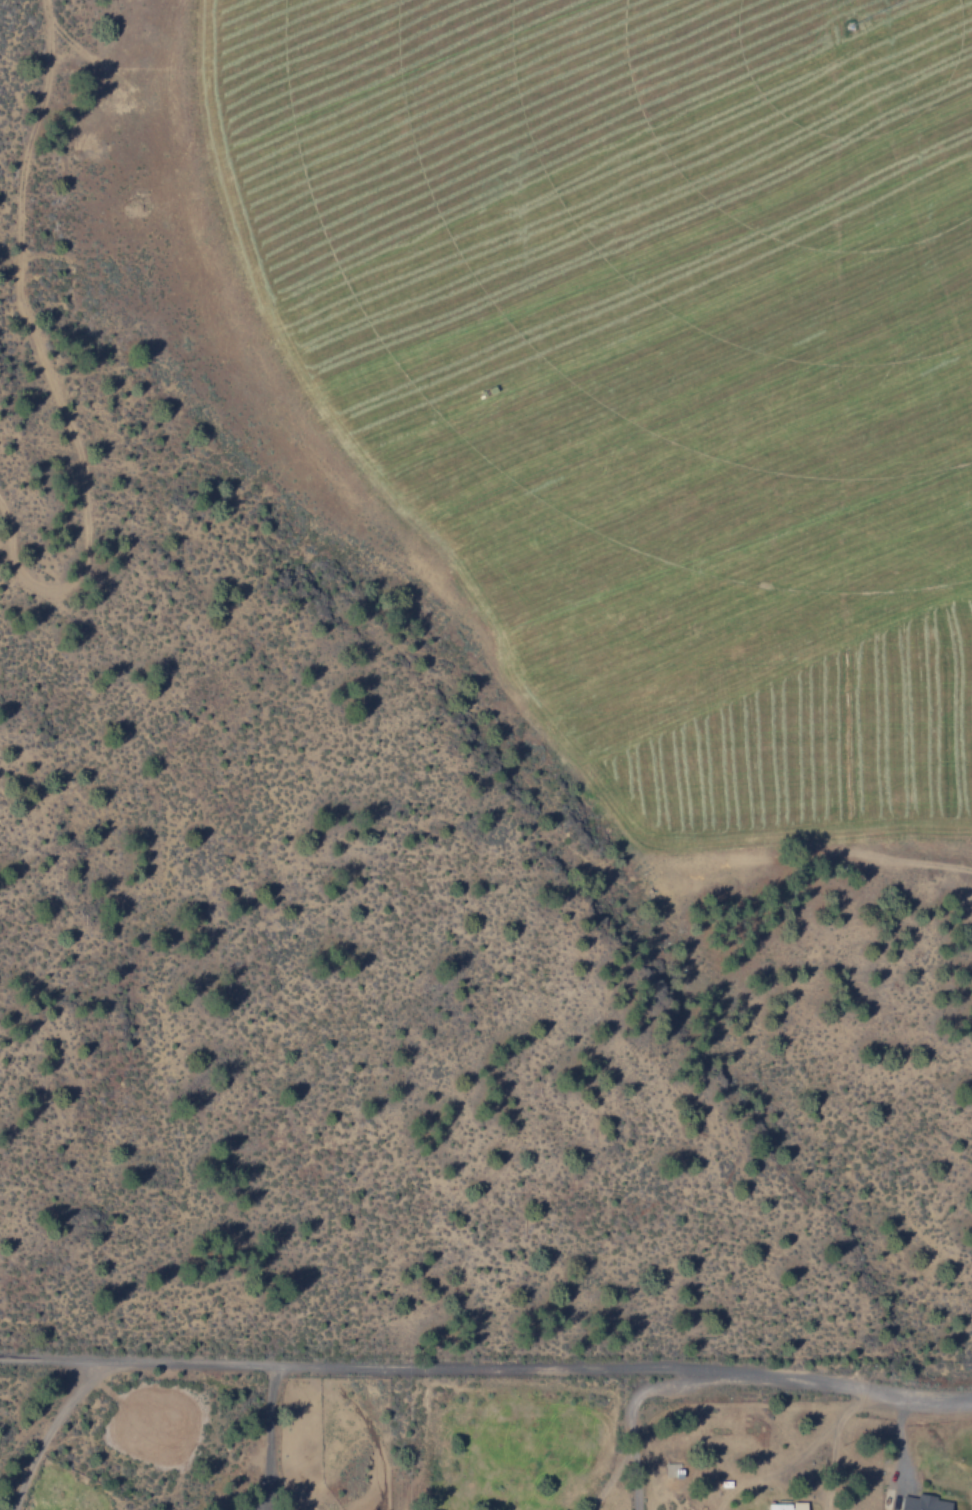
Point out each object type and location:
road: (487, 1364)
road: (51, 1435)
building: (924, 1502)
building: (787, 1505)

